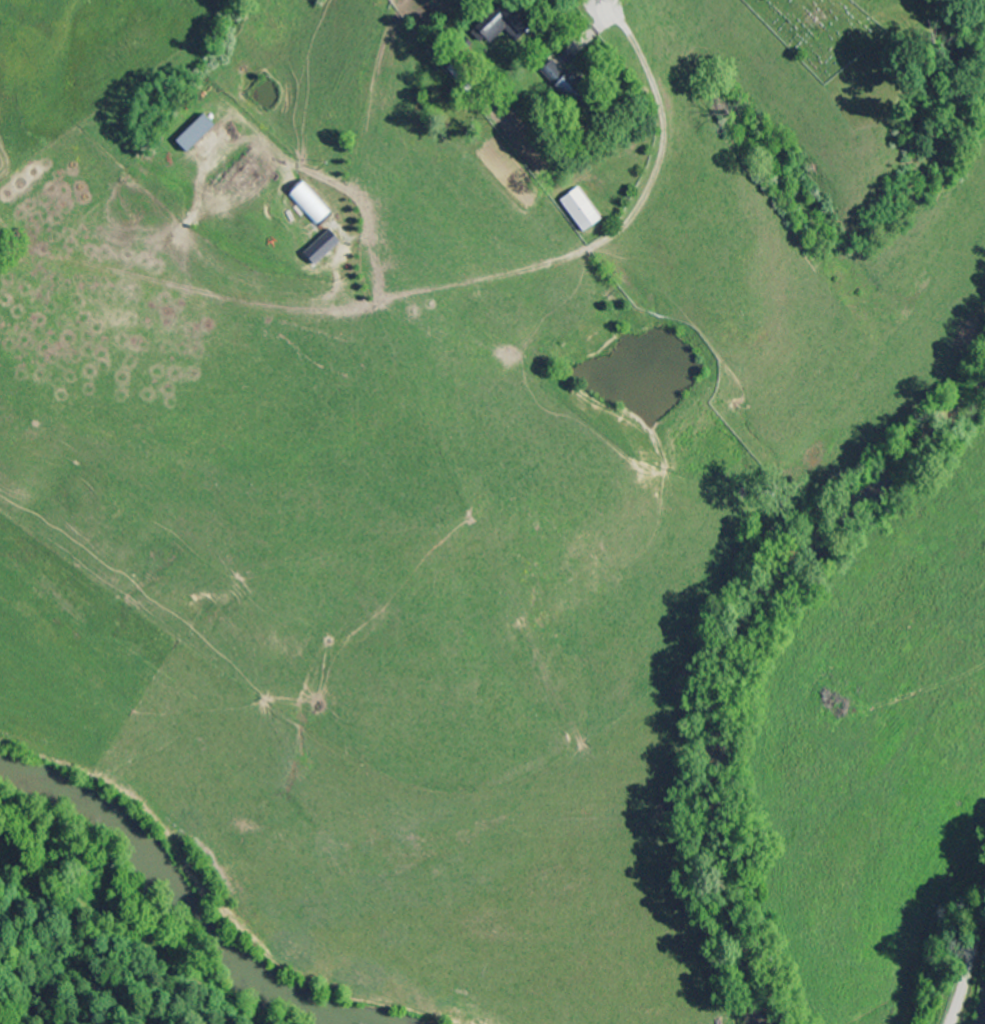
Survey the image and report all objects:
park: (821, 32)
building: (201, 135)
building: (583, 211)
building: (326, 248)
river: (728, 652)
river: (192, 897)
road: (969, 963)

